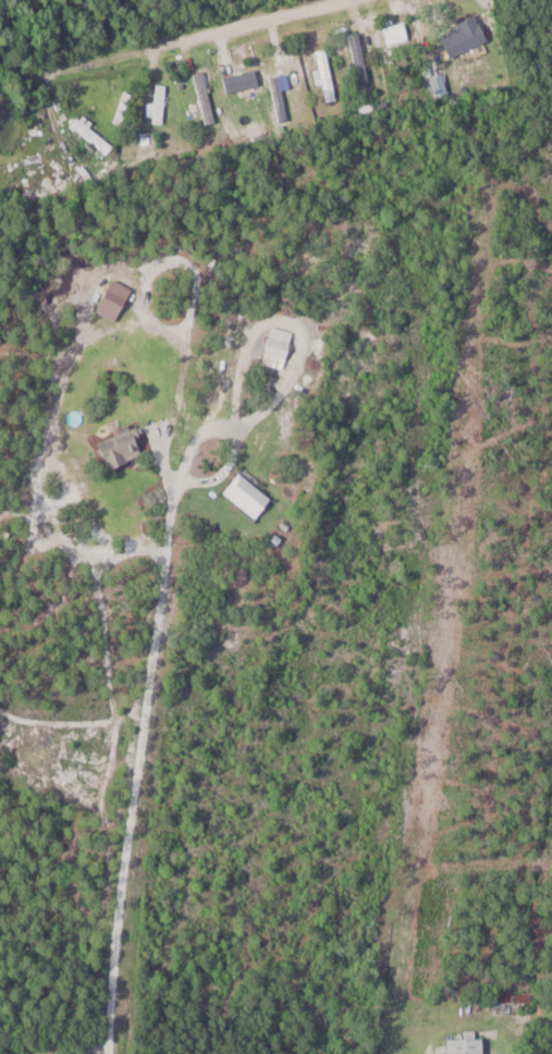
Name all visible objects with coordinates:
road: (204, 34)
building: (469, 40)
building: (360, 58)
building: (328, 75)
building: (244, 81)
building: (206, 96)
building: (281, 98)
building: (159, 103)
building: (123, 106)
building: (94, 134)
building: (280, 345)
building: (125, 445)
road: (200, 479)
building: (249, 493)
road: (124, 837)
building: (469, 1044)

